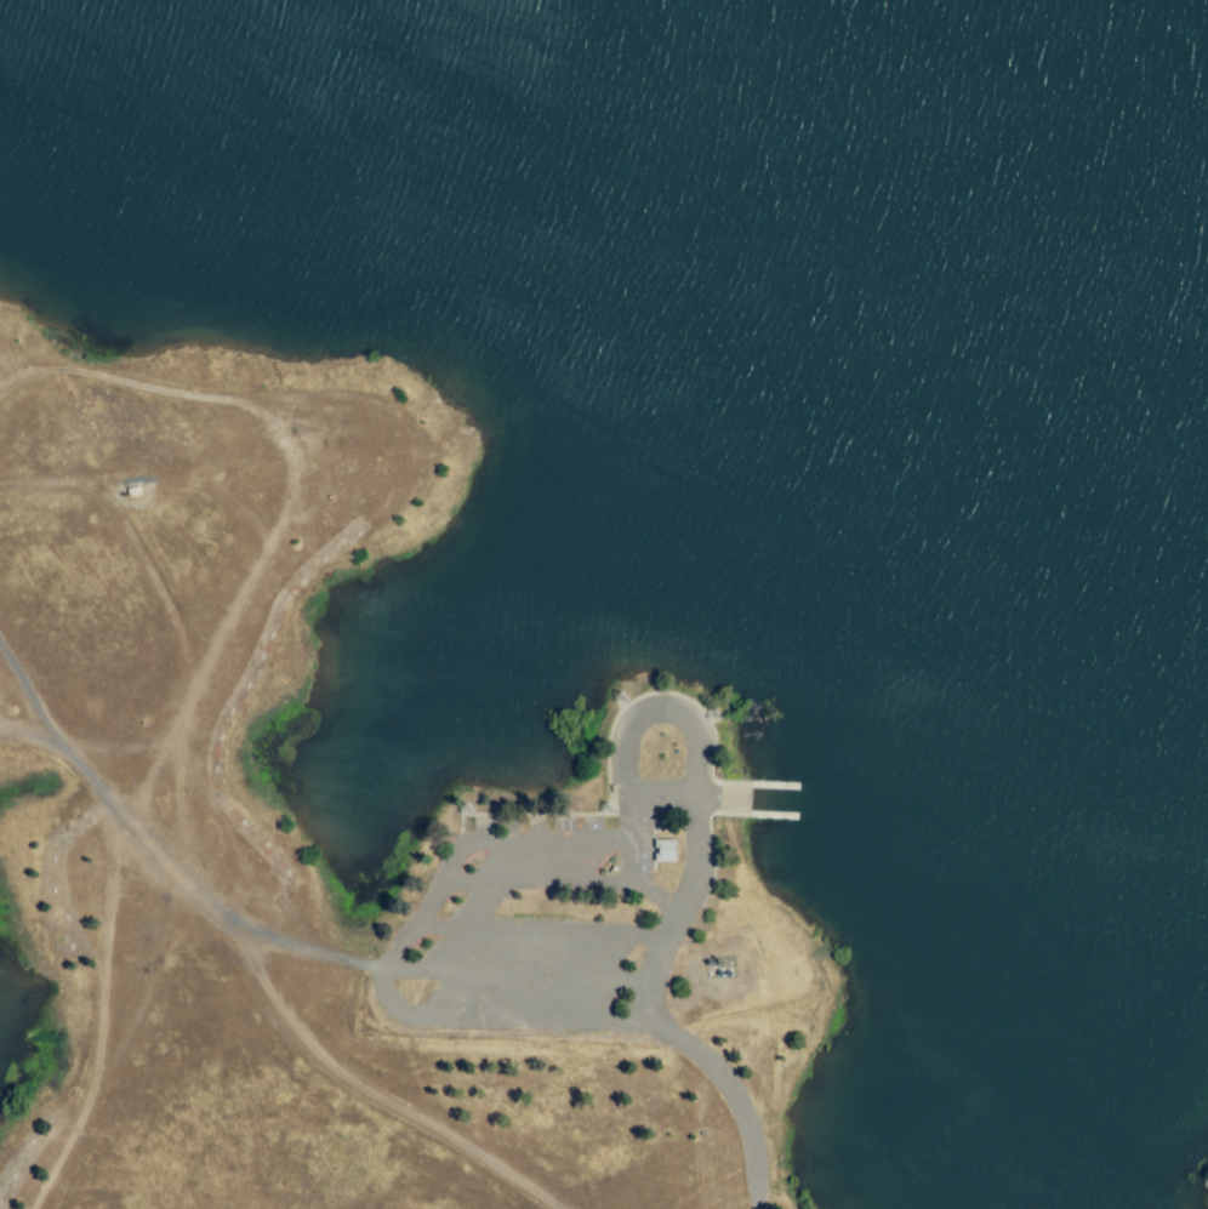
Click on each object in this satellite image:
road: (640, 711)
building: (665, 850)
road: (700, 1056)

